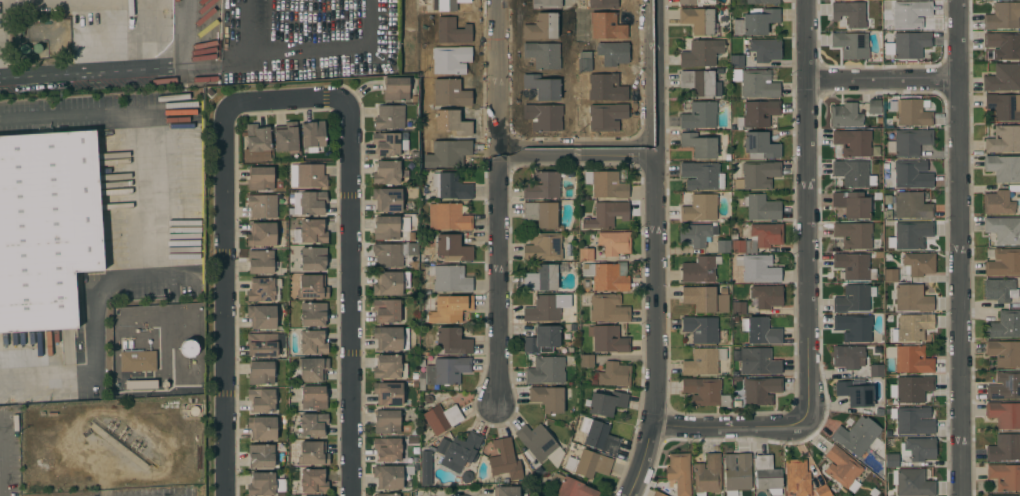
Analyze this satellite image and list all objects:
road: (96, 1)
building: (762, 1)
building: (696, 2)
building: (600, 3)
building: (448, 4)
building: (546, 4)
building: (849, 13)
building: (910, 13)
building: (1002, 15)
building: (699, 20)
building: (755, 21)
building: (604, 24)
building: (541, 26)
building: (452, 30)
building: (910, 43)
building: (851, 44)
building: (1003, 44)
building: (765, 49)
building: (701, 52)
building: (542, 54)
building: (604, 54)
road: (291, 59)
building: (448, 59)
building: (736, 60)
road: (117, 70)
building: (1003, 77)
road: (881, 78)
building: (700, 82)
building: (755, 82)
building: (542, 86)
building: (605, 86)
building: (396, 88)
building: (450, 92)
road: (284, 97)
building: (874, 106)
building: (1003, 106)
building: (911, 112)
building: (757, 113)
building: (699, 115)
building: (845, 115)
building: (389, 116)
building: (605, 116)
building: (544, 117)
building: (452, 122)
building: (313, 133)
building: (257, 137)
building: (286, 137)
building: (1003, 139)
building: (911, 141)
building: (853, 142)
building: (388, 144)
building: (699, 144)
building: (760, 145)
road: (575, 148)
building: (447, 153)
building: (1003, 167)
building: (388, 172)
building: (854, 173)
building: (912, 174)
building: (310, 175)
building: (701, 175)
building: (757, 175)
building: (260, 178)
building: (606, 184)
road: (148, 185)
building: (542, 185)
building: (450, 186)
building: (387, 199)
building: (308, 202)
road: (498, 202)
building: (998, 202)
building: (851, 203)
building: (262, 205)
building: (910, 205)
building: (760, 206)
building: (700, 208)
road: (805, 209)
building: (541, 213)
building: (606, 214)
building: (448, 216)
building: (46, 226)
building: (389, 227)
building: (1004, 229)
building: (312, 231)
building: (262, 234)
building: (696, 234)
building: (853, 234)
building: (910, 234)
building: (759, 237)
building: (614, 242)
building: (544, 246)
building: (723, 246)
building: (452, 247)
road: (959, 248)
road: (654, 250)
building: (387, 254)
building: (586, 254)
building: (313, 258)
building: (260, 261)
building: (1003, 262)
building: (918, 263)
building: (852, 265)
building: (757, 268)
building: (700, 269)
building: (890, 274)
building: (607, 275)
building: (543, 277)
building: (449, 278)
building: (390, 283)
building: (312, 286)
building: (261, 289)
building: (999, 289)
building: (767, 295)
road: (349, 297)
building: (854, 297)
building: (706, 298)
building: (912, 298)
road: (224, 300)
building: (546, 307)
building: (738, 307)
building: (450, 308)
building: (608, 308)
building: (386, 310)
building: (313, 313)
building: (262, 316)
building: (1004, 324)
building: (854, 327)
building: (912, 327)
building: (701, 328)
building: (760, 330)
building: (388, 338)
building: (608, 338)
building: (543, 339)
building: (453, 341)
building: (312, 342)
building: (261, 344)
building: (188, 347)
storage tank: (188, 347)
building: (1004, 352)
building: (848, 356)
building: (910, 358)
building: (137, 360)
building: (586, 360)
building: (760, 360)
building: (703, 361)
building: (389, 367)
building: (312, 368)
building: (546, 369)
building: (149, 370)
building: (876, 370)
building: (443, 371)
building: (261, 372)
building: (614, 374)
road: (47, 380)
building: (1004, 385)
building: (911, 388)
building: (757, 391)
building: (705, 392)
building: (388, 393)
building: (855, 393)
building: (313, 397)
building: (548, 398)
building: (262, 399)
building: (605, 403)
building: (1004, 414)
building: (440, 418)
building: (912, 420)
building: (387, 421)
building: (313, 424)
road: (728, 425)
building: (262, 427)
building: (598, 435)
building: (857, 435)
building: (538, 442)
building: (1004, 447)
building: (918, 448)
building: (387, 449)
building: (459, 450)
building: (313, 452)
building: (261, 455)
building: (505, 459)
building: (892, 460)
building: (588, 463)
building: (842, 466)
building: (426, 468)
road: (1, 470)
building: (737, 471)
building: (679, 472)
building: (767, 474)
building: (707, 475)
building: (389, 476)
building: (1004, 476)
building: (797, 477)
building: (313, 480)
building: (912, 482)
building: (261, 484)
building: (570, 486)
building: (822, 490)
building: (506, 491)
building: (658, 493)
building: (387, 494)
building: (998, 495)

